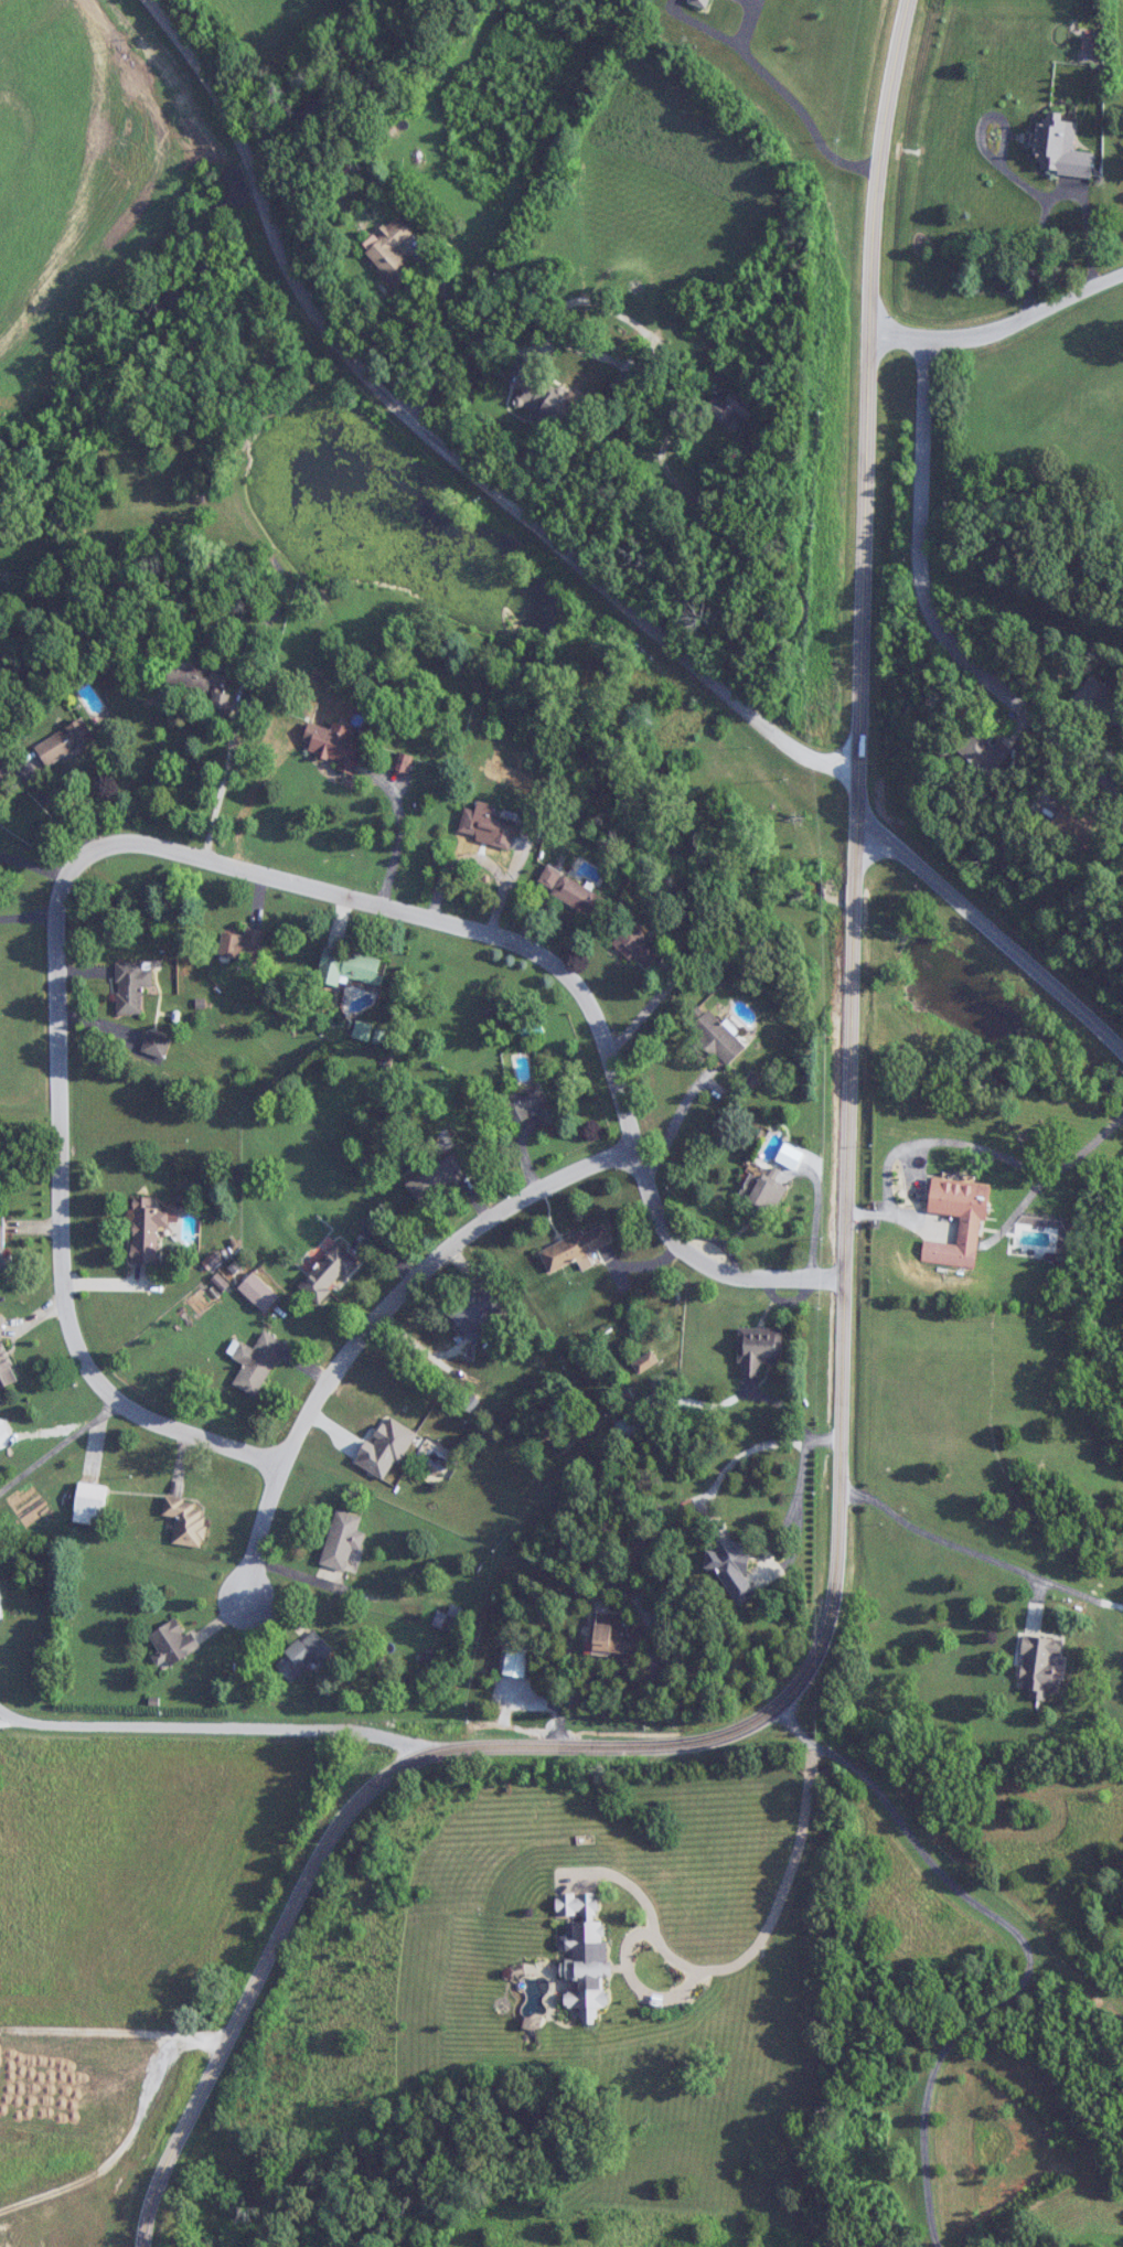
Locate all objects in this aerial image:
road: (217, 81)
road: (776, 85)
building: (1059, 149)
road: (1045, 195)
building: (391, 249)
road: (999, 329)
building: (719, 370)
building: (628, 382)
building: (544, 400)
building: (729, 407)
building: (656, 410)
road: (243, 504)
road: (518, 504)
road: (773, 565)
road: (929, 604)
building: (201, 680)
building: (1100, 700)
building: (64, 742)
building: (336, 747)
building: (984, 751)
building: (404, 762)
road: (224, 782)
building: (1077, 822)
building: (489, 827)
road: (399, 839)
road: (481, 858)
building: (549, 877)
building: (580, 897)
road: (993, 934)
building: (242, 945)
building: (639, 946)
building: (347, 967)
road: (575, 978)
building: (131, 985)
road: (646, 1012)
building: (531, 1027)
building: (717, 1038)
building: (156, 1045)
building: (531, 1105)
road: (676, 1123)
building: (436, 1178)
road: (61, 1191)
building: (761, 1191)
building: (961, 1203)
road: (815, 1213)
building: (146, 1230)
building: (1, 1237)
building: (575, 1249)
building: (328, 1273)
building: (257, 1292)
building: (477, 1307)
road: (371, 1325)
road: (845, 1331)
building: (758, 1349)
building: (256, 1362)
building: (645, 1362)
building: (4, 1365)
building: (633, 1425)
building: (398, 1437)
road: (60, 1447)
building: (88, 1504)
building: (186, 1521)
road: (938, 1539)
building: (342, 1540)
building: (730, 1564)
building: (616, 1634)
building: (172, 1645)
building: (302, 1656)
building: (516, 1661)
building: (1039, 1663)
road: (6, 1721)
road: (213, 1727)
building: (577, 1904)
road: (1029, 1943)
road: (758, 1947)
building: (585, 1967)

